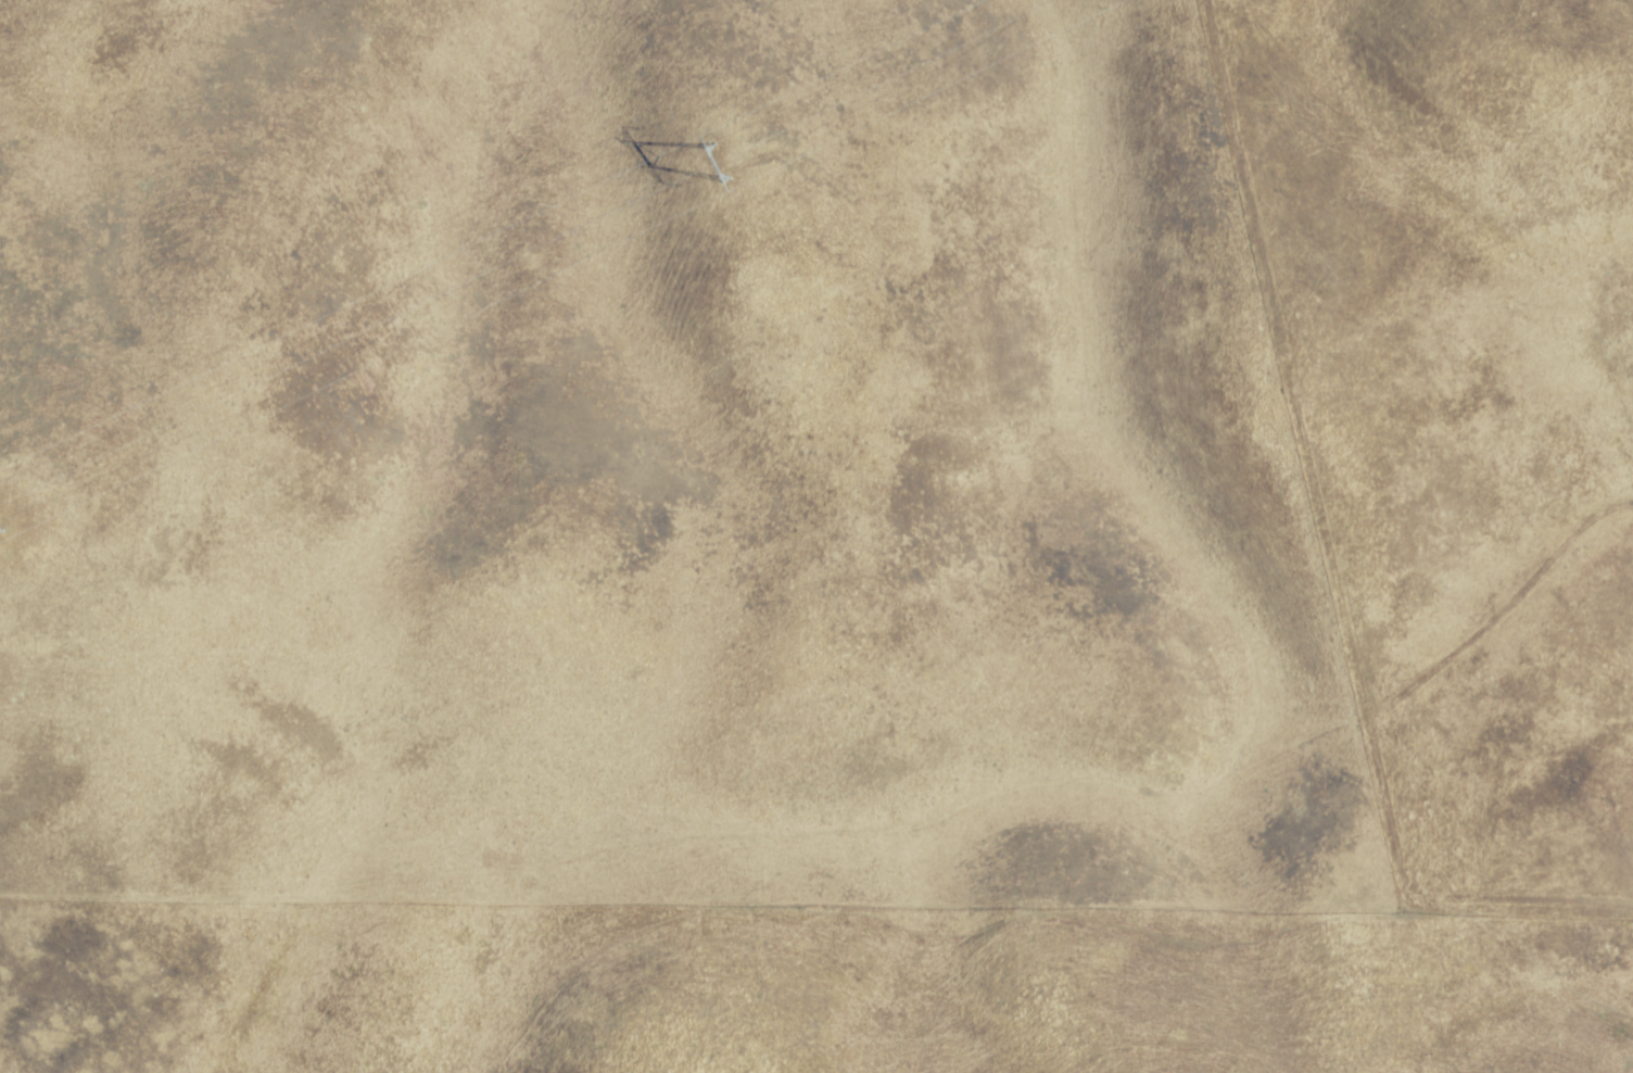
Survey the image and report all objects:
power tower: (721, 165)

